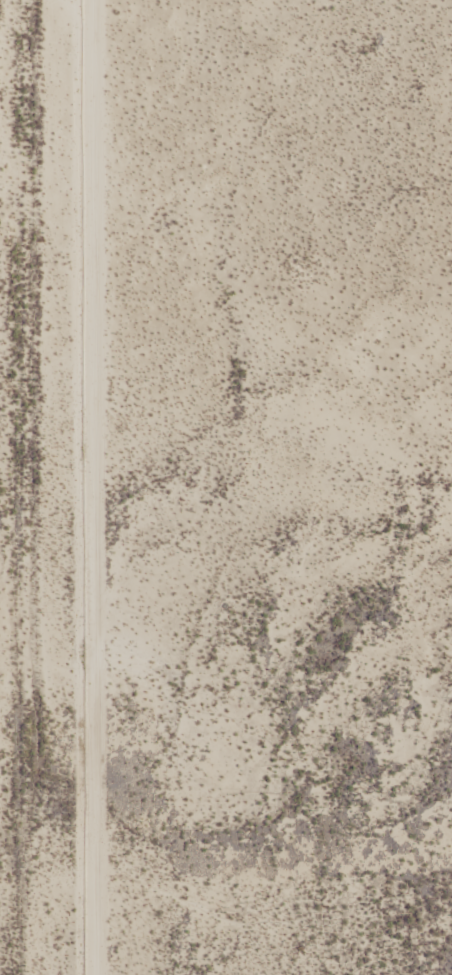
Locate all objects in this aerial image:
road: (8, 487)

